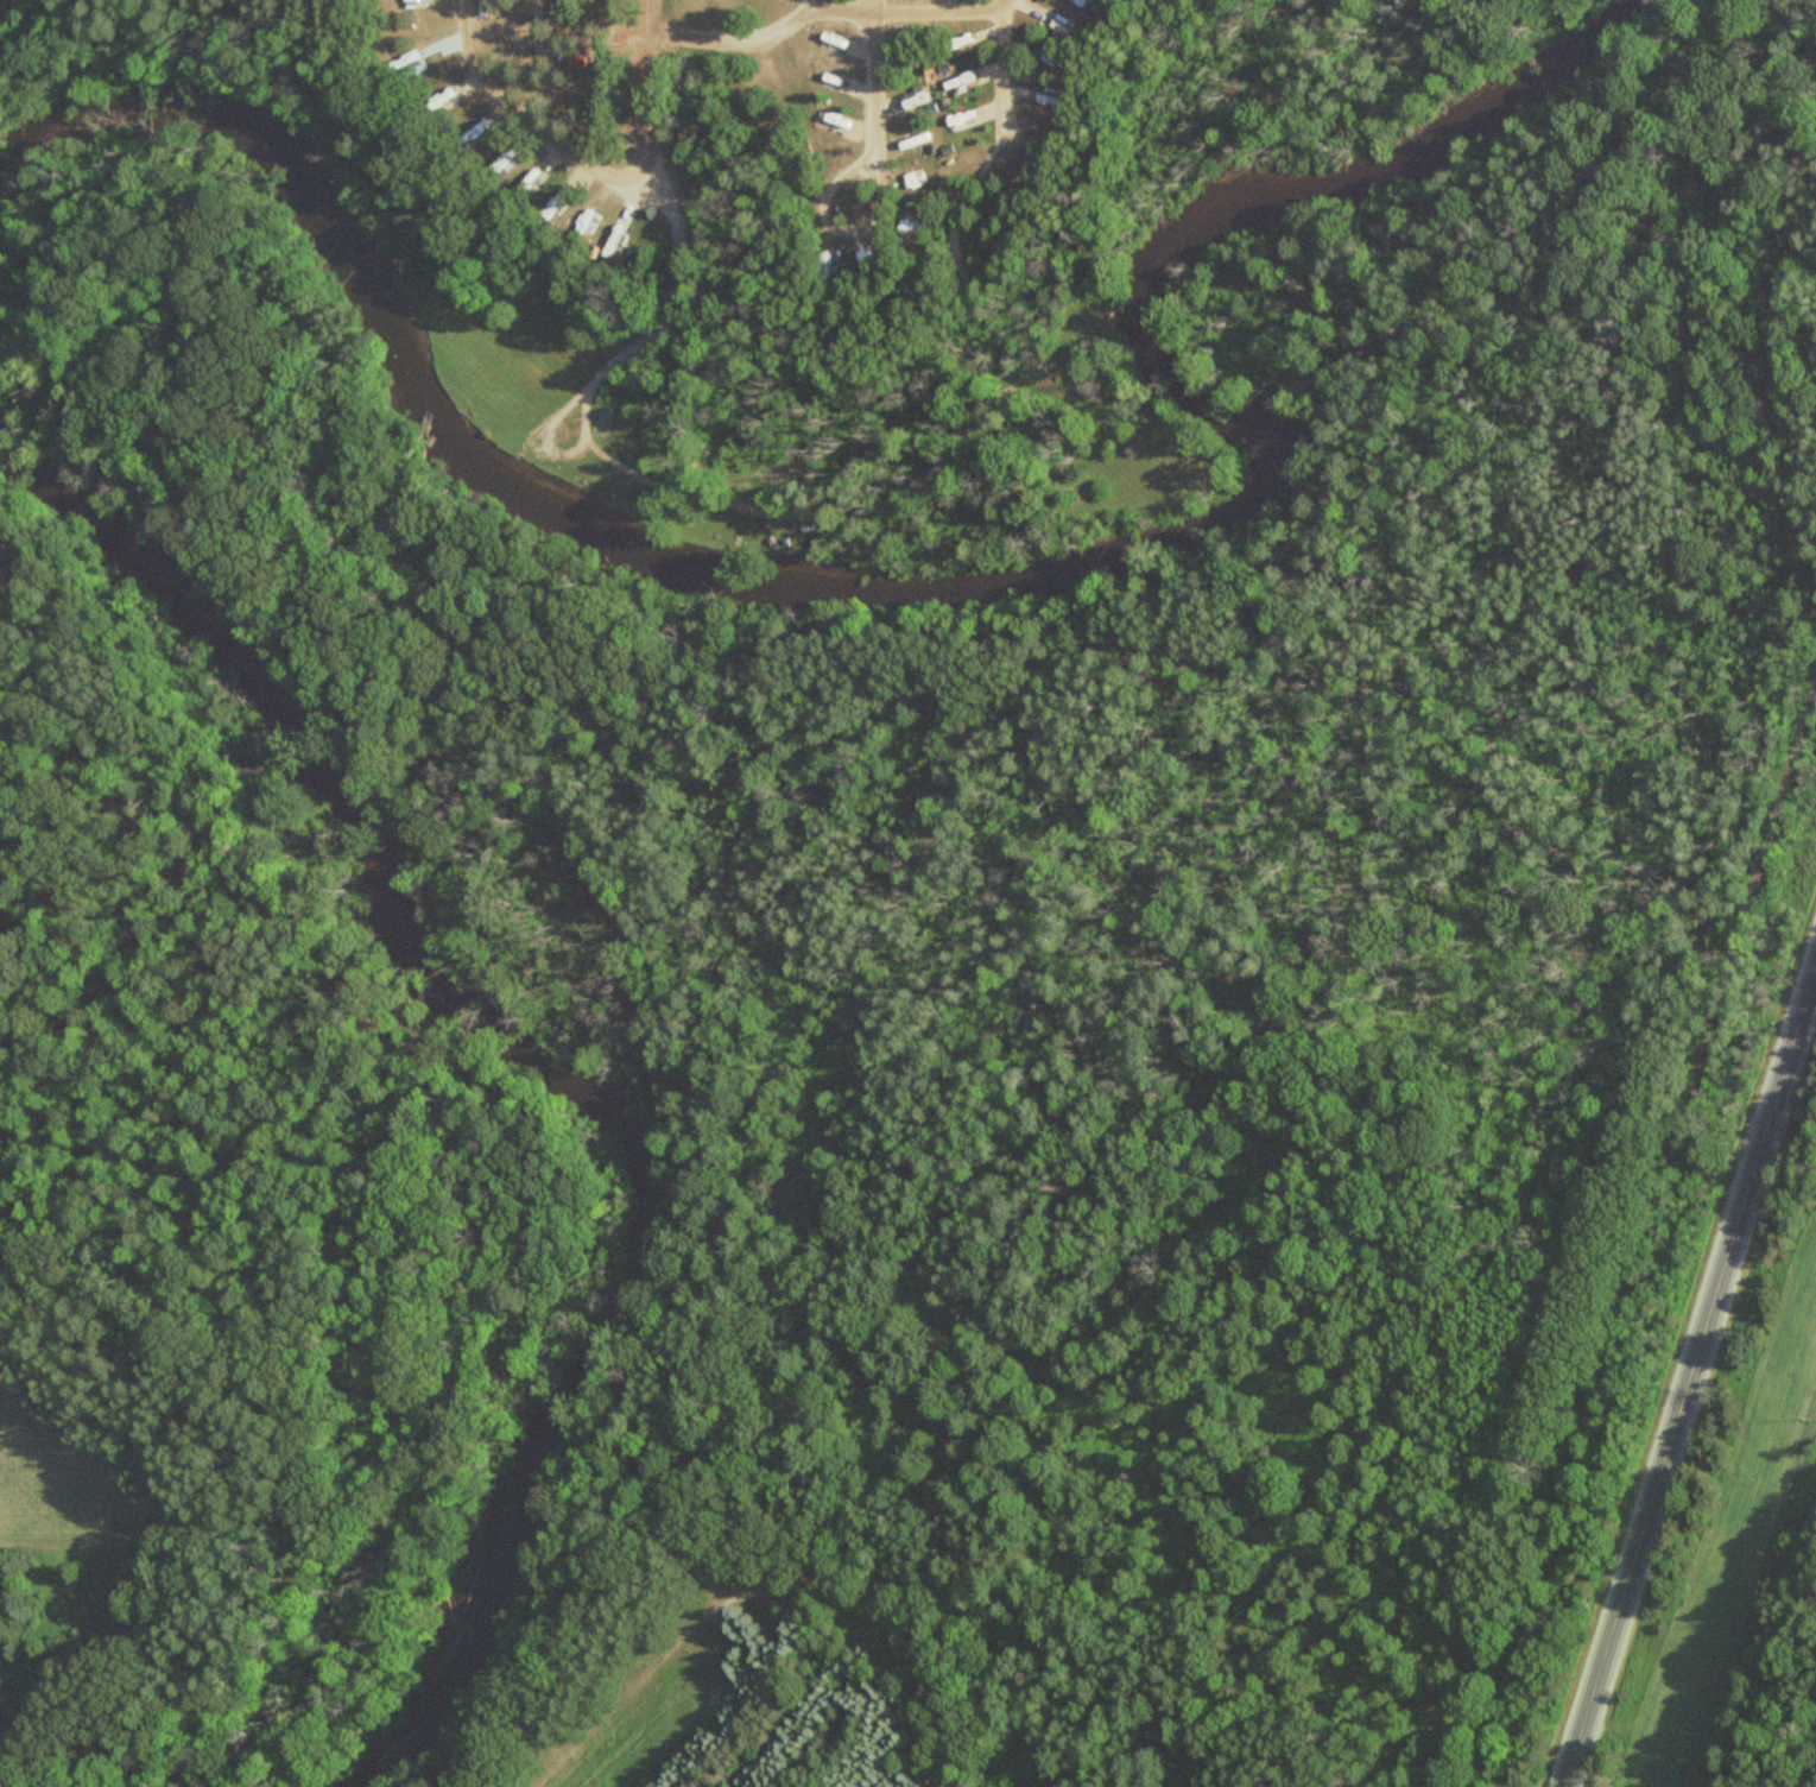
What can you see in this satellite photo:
road: (1007, 4)
road: (738, 44)
road: (874, 63)
road: (523, 116)
road: (596, 159)
building: (499, 163)
road: (846, 239)
road: (672, 242)
road: (949, 252)
river: (962, 581)
river: (545, 1071)
road: (1657, 1230)
road: (1690, 1378)

